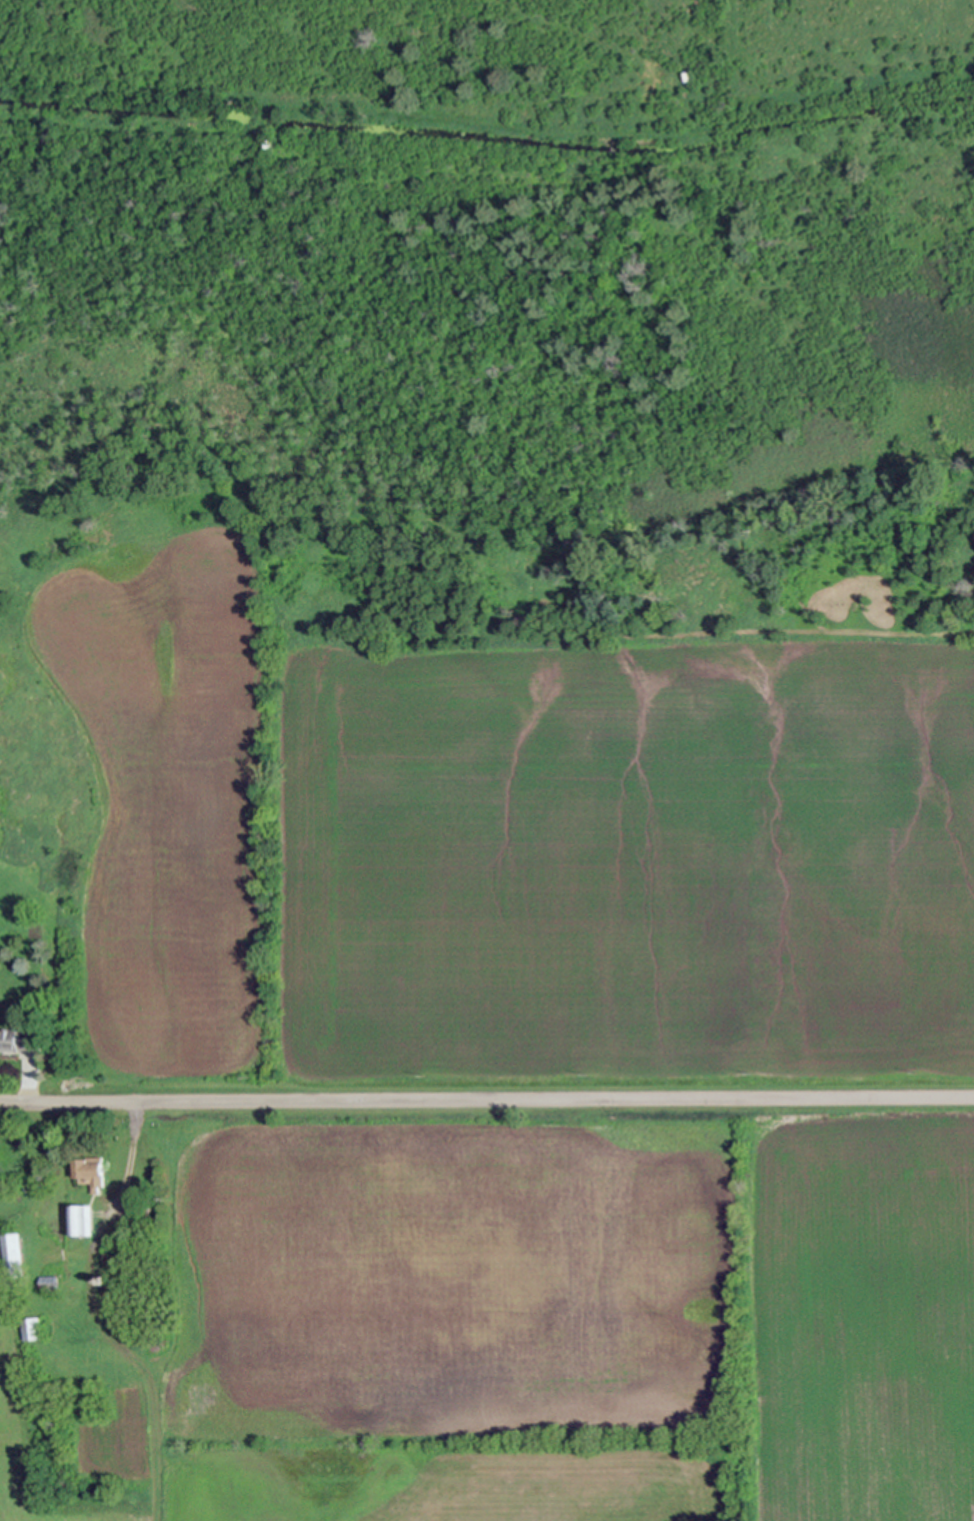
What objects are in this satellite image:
building: (685, 77)
building: (611, 150)
building: (41, 1010)
building: (17, 1040)
road: (486, 1102)
building: (89, 1173)
building: (140, 1208)
building: (141, 1221)
building: (79, 1222)
building: (141, 1230)
building: (147, 1236)
building: (12, 1257)
building: (103, 1281)
building: (46, 1284)
building: (35, 1331)

